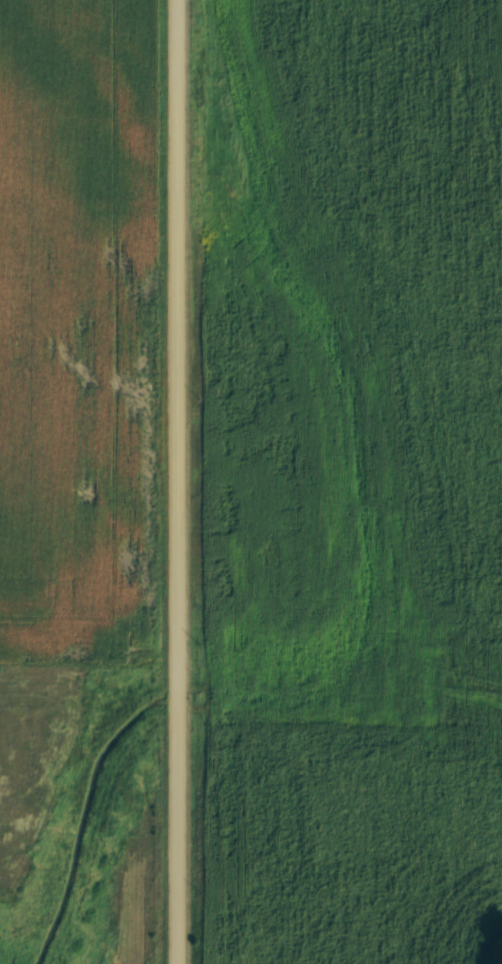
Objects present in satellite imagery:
road: (177, 482)

